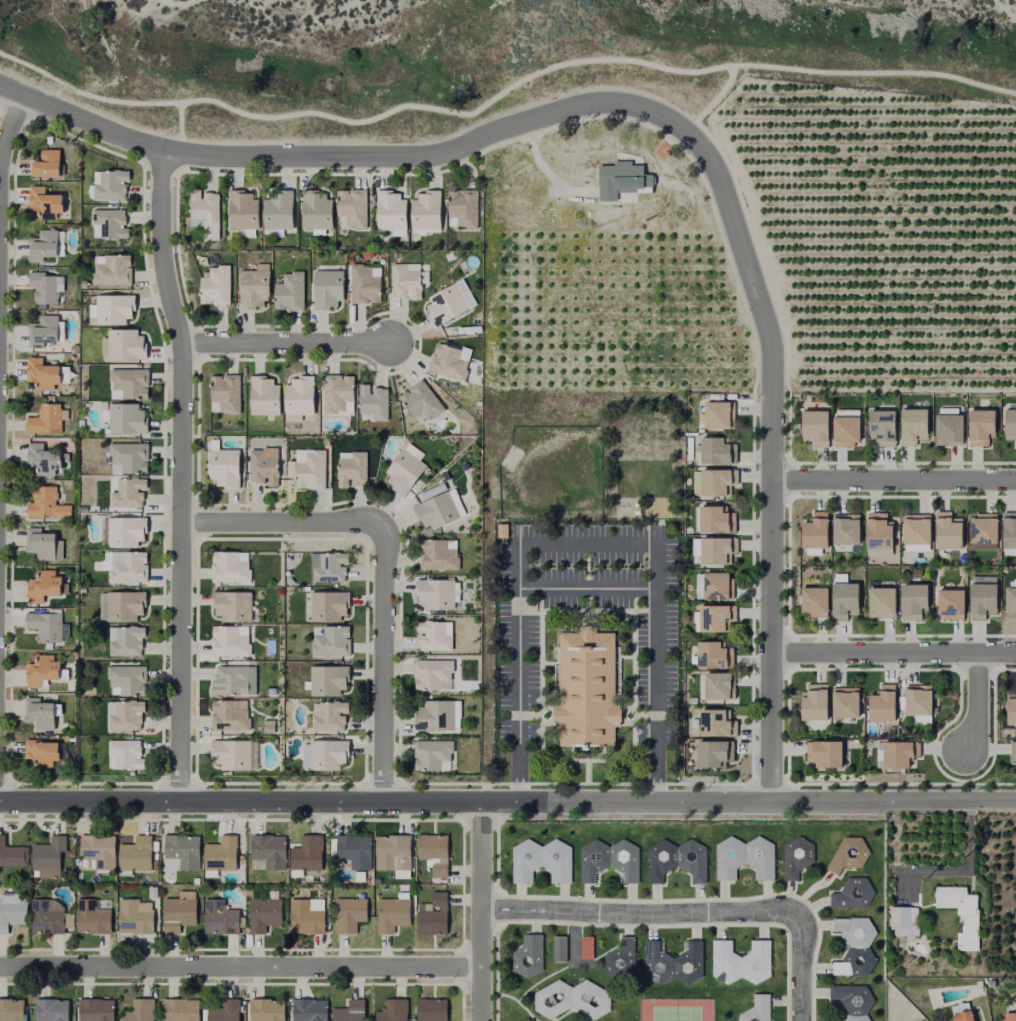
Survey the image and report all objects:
road: (37, 70)
road: (536, 72)
road: (710, 101)
road: (10, 123)
road: (674, 127)
road: (177, 128)
building: (47, 160)
building: (111, 181)
building: (621, 182)
building: (49, 201)
building: (353, 205)
building: (205, 206)
building: (464, 206)
building: (244, 207)
building: (392, 207)
building: (280, 208)
building: (318, 209)
building: (428, 210)
building: (110, 220)
building: (44, 243)
building: (114, 268)
building: (408, 279)
building: (366, 282)
building: (218, 283)
building: (47, 284)
building: (255, 285)
building: (329, 286)
building: (292, 289)
building: (447, 302)
building: (116, 306)
building: (45, 328)
building: (126, 344)
road: (286, 344)
building: (449, 360)
building: (44, 372)
building: (130, 381)
building: (339, 390)
building: (227, 392)
building: (301, 393)
building: (265, 394)
building: (423, 398)
building: (375, 400)
building: (46, 417)
building: (127, 418)
building: (717, 420)
building: (1009, 424)
building: (910, 425)
building: (812, 426)
building: (878, 426)
building: (977, 426)
building: (946, 429)
building: (843, 431)
building: (715, 453)
building: (131, 454)
building: (46, 458)
building: (227, 465)
building: (265, 465)
building: (354, 465)
building: (313, 468)
building: (406, 469)
road: (181, 474)
road: (893, 482)
building: (716, 486)
building: (130, 491)
building: (48, 503)
building: (441, 507)
building: (714, 521)
road: (281, 523)
building: (915, 528)
building: (982, 528)
building: (124, 529)
building: (946, 530)
building: (1009, 530)
building: (500, 531)
building: (814, 531)
building: (844, 531)
building: (878, 531)
building: (42, 542)
road: (585, 542)
building: (915, 548)
building: (1009, 552)
building: (439, 553)
building: (717, 553)
building: (878, 553)
building: (334, 565)
building: (130, 566)
building: (228, 568)
building: (45, 583)
road: (583, 588)
building: (715, 589)
building: (437, 591)
building: (843, 598)
building: (981, 598)
building: (813, 599)
building: (912, 599)
building: (881, 600)
building: (1010, 601)
building: (950, 602)
building: (127, 603)
building: (234, 603)
building: (331, 603)
building: (714, 621)
building: (46, 623)
building: (435, 635)
building: (128, 640)
building: (231, 640)
building: (333, 640)
road: (894, 652)
building: (713, 657)
road: (382, 661)
building: (42, 667)
building: (433, 671)
parking lot: (516, 675)
building: (129, 678)
building: (232, 678)
building: (330, 678)
building: (584, 688)
building: (718, 691)
building: (809, 703)
building: (912, 704)
road: (975, 704)
building: (877, 706)
building: (844, 709)
building: (1010, 710)
building: (42, 712)
building: (440, 712)
building: (129, 714)
building: (231, 714)
building: (332, 715)
building: (714, 724)
building: (43, 750)
building: (330, 751)
building: (823, 751)
building: (127, 752)
building: (237, 752)
building: (714, 752)
building: (1015, 753)
building: (898, 754)
building: (429, 755)
road: (508, 799)
building: (100, 850)
building: (269, 850)
building: (356, 850)
building: (183, 851)
building: (393, 851)
building: (436, 851)
building: (309, 852)
building: (12, 853)
building: (137, 853)
building: (847, 853)
building: (50, 855)
building: (222, 855)
building: (744, 857)
building: (796, 857)
building: (608, 859)
building: (675, 859)
building: (539, 860)
building: (851, 893)
road: (478, 909)
building: (12, 910)
building: (180, 910)
building: (396, 910)
building: (265, 913)
building: (351, 913)
building: (94, 914)
building: (436, 914)
road: (692, 914)
building: (961, 914)
building: (138, 915)
building: (308, 915)
building: (49, 916)
building: (222, 916)
building: (903, 919)
building: (854, 944)
building: (584, 947)
building: (557, 948)
building: (525, 956)
building: (618, 958)
building: (738, 961)
building: (671, 962)
road: (239, 969)
building: (989, 983)
building: (976, 984)
building: (569, 998)
building: (851, 1000)
building: (756, 1008)
building: (12, 1009)
building: (53, 1009)
building: (97, 1009)
building: (181, 1009)
building: (267, 1009)
building: (310, 1009)
building: (434, 1009)
building: (141, 1010)
building: (226, 1010)
building: (395, 1010)
building: (352, 1011)
building: (962, 1016)
building: (1008, 1016)
building: (524, 1020)

